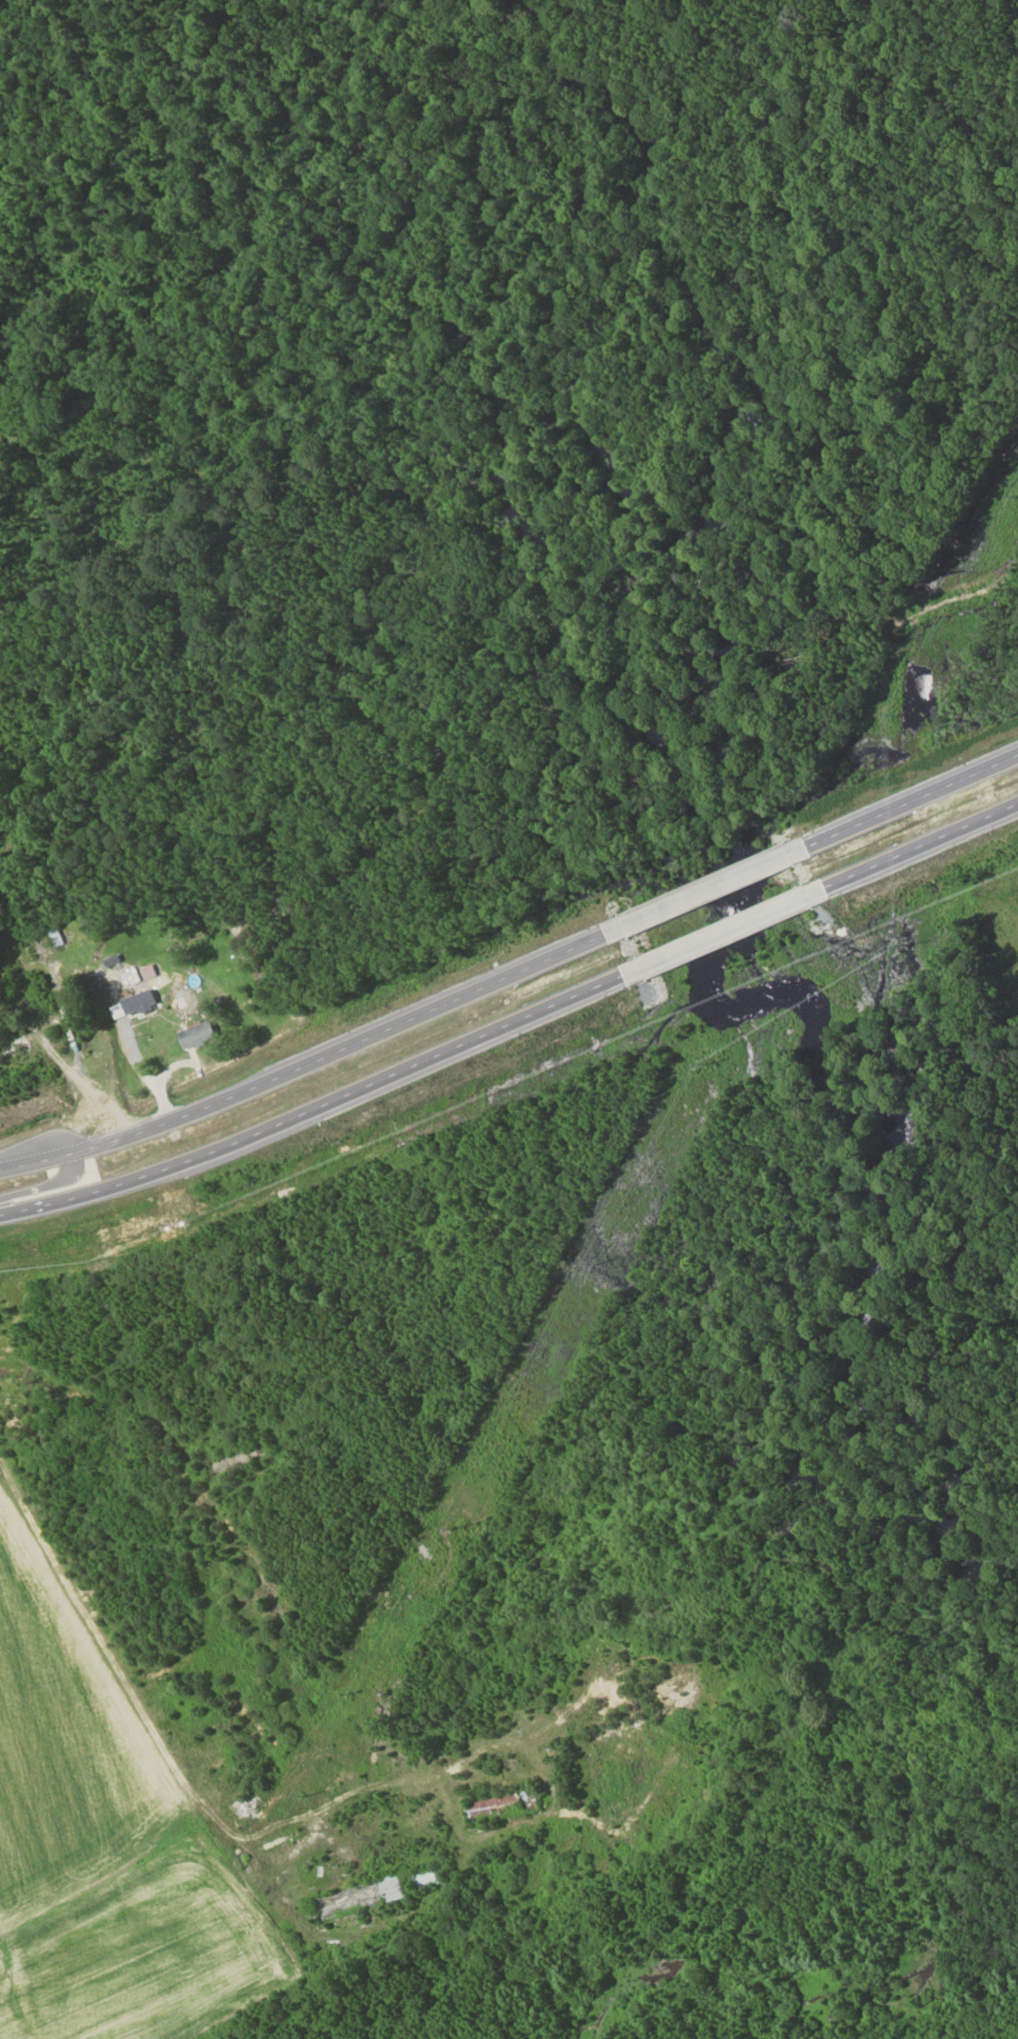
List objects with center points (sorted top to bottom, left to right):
road: (913, 801)
road: (922, 844)
road: (707, 891)
road: (726, 930)
building: (43, 942)
building: (129, 977)
building: (180, 998)
building: (133, 1005)
building: (198, 1035)
building: (18, 1053)
road: (308, 1065)
road: (317, 1107)
road: (46, 1185)
building: (504, 1804)
building: (245, 1806)
building: (431, 1876)
building: (361, 1897)

